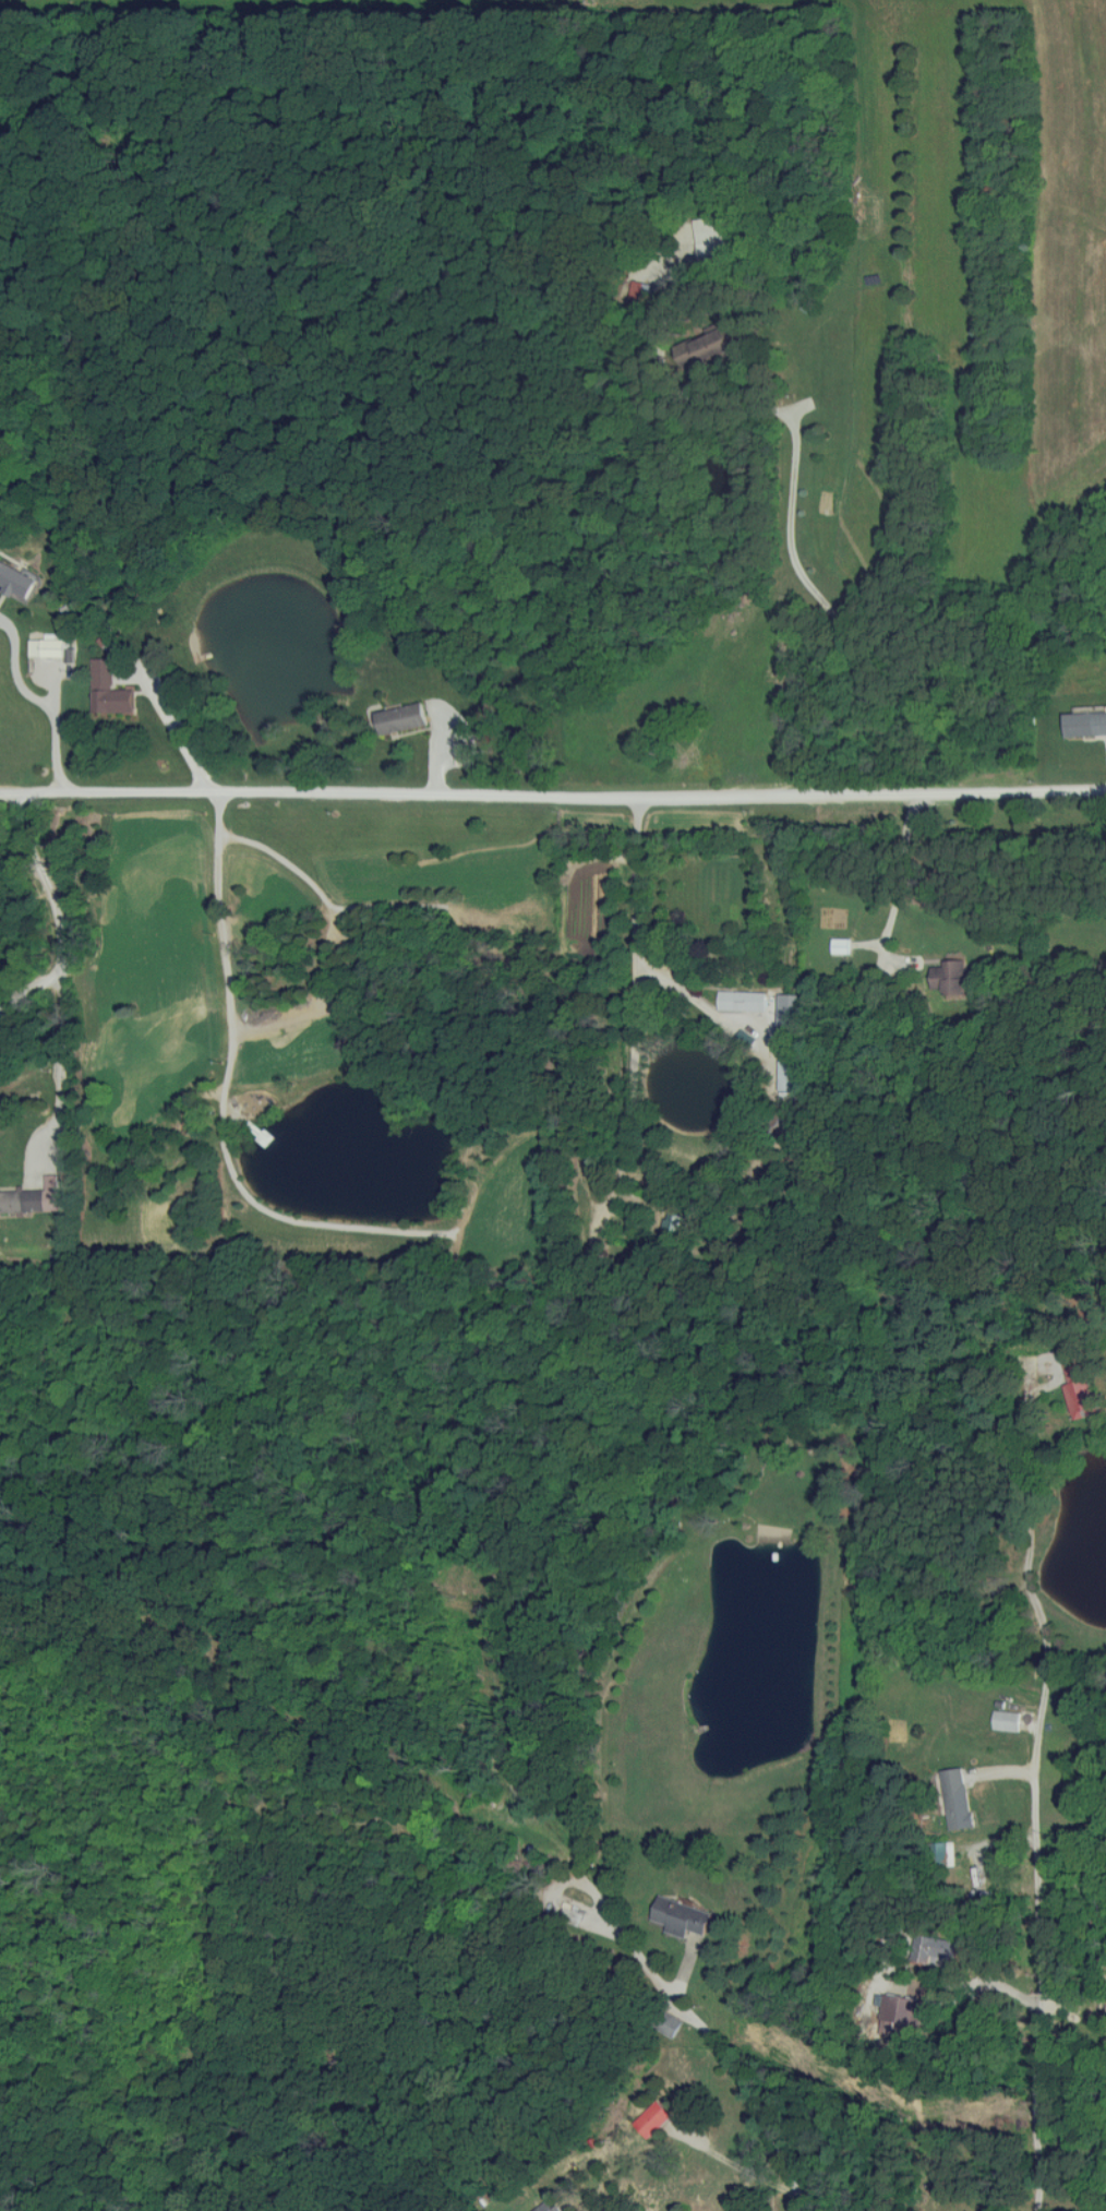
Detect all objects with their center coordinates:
building: (709, 247)
building: (15, 579)
road: (831, 609)
building: (47, 648)
building: (107, 690)
road: (38, 702)
building: (401, 719)
building: (1085, 725)
road: (175, 728)
building: (462, 754)
building: (693, 772)
road: (553, 796)
road: (897, 889)
building: (261, 905)
road: (635, 929)
building: (110, 939)
road: (225, 948)
road: (59, 970)
building: (949, 978)
road: (29, 990)
building: (742, 1000)
road: (697, 1001)
building: (792, 1014)
building: (790, 1073)
building: (33, 1198)
building: (674, 1221)
building: (1081, 1396)
building: (1006, 1720)
road: (1036, 1789)
building: (957, 1797)
building: (680, 1916)
building: (668, 2025)
road: (725, 2049)
road: (613, 2113)
building: (652, 2118)
building: (551, 2207)

